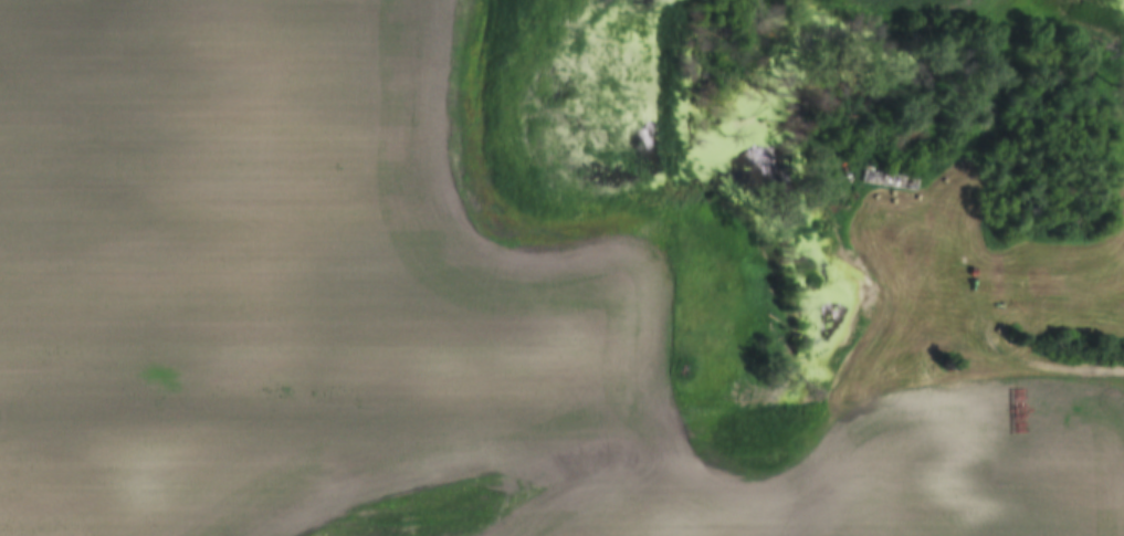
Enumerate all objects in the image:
building: (887, 180)
road: (1049, 365)

